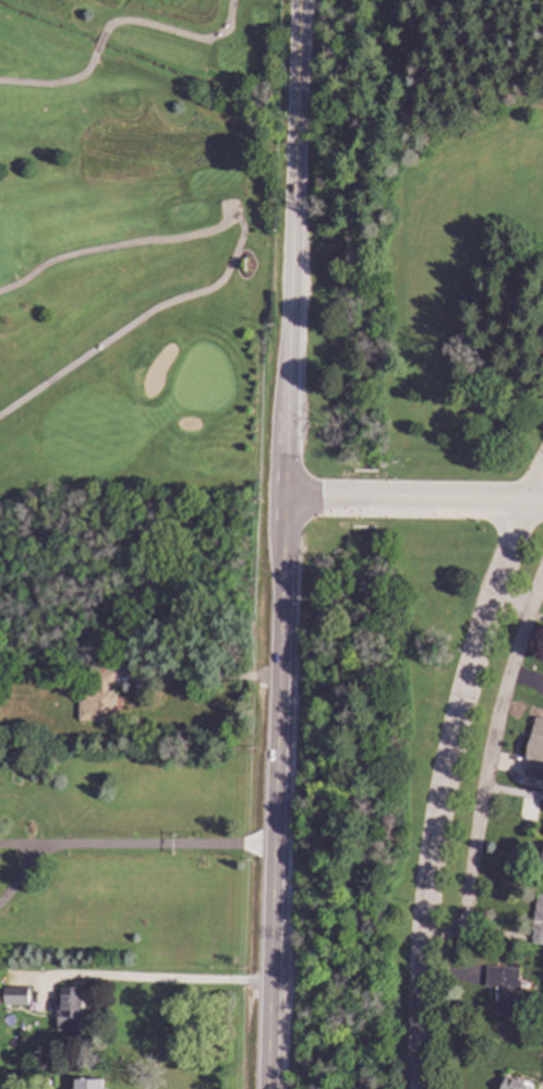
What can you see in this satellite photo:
road: (177, 33)
road: (98, 43)
road: (52, 83)
building: (254, 240)
park: (425, 244)
road: (233, 254)
park: (137, 255)
road: (538, 487)
road: (413, 499)
road: (282, 544)
road: (205, 677)
building: (96, 700)
building: (534, 751)
road: (487, 764)
road: (442, 787)
park: (390, 796)
river: (338, 814)
road: (28, 844)
road: (167, 844)
building: (541, 851)
road: (25, 871)
building: (536, 921)
road: (156, 980)
building: (508, 994)
building: (13, 995)
building: (68, 1008)
building: (86, 1084)
building: (511, 1085)

